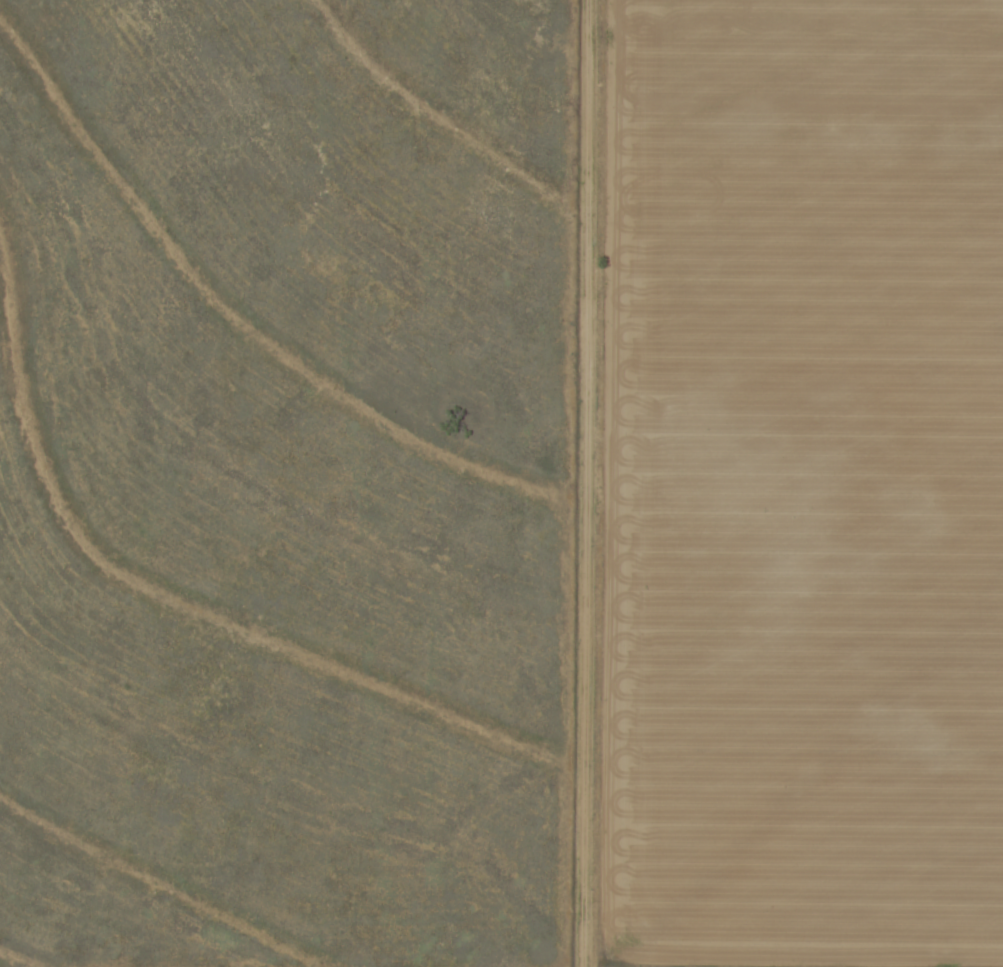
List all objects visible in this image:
road: (634, 483)

